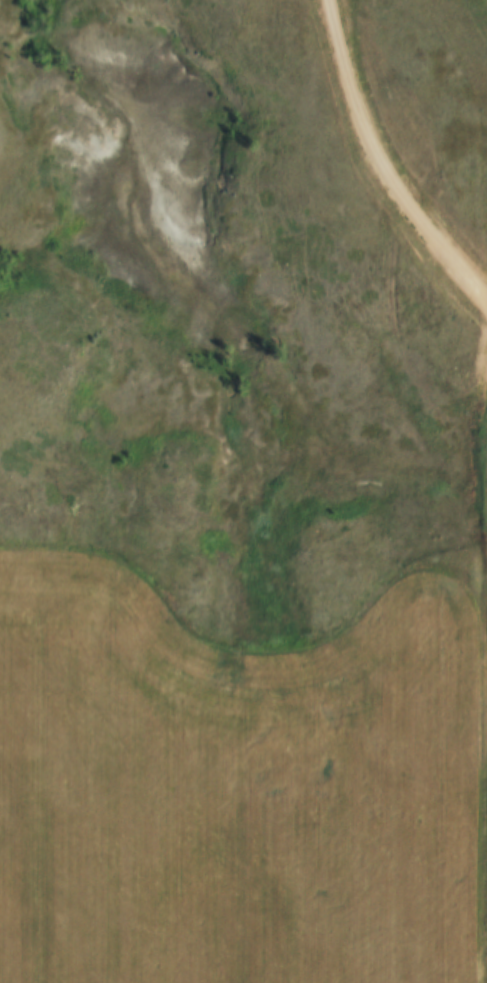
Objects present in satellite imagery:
road: (414, 152)

